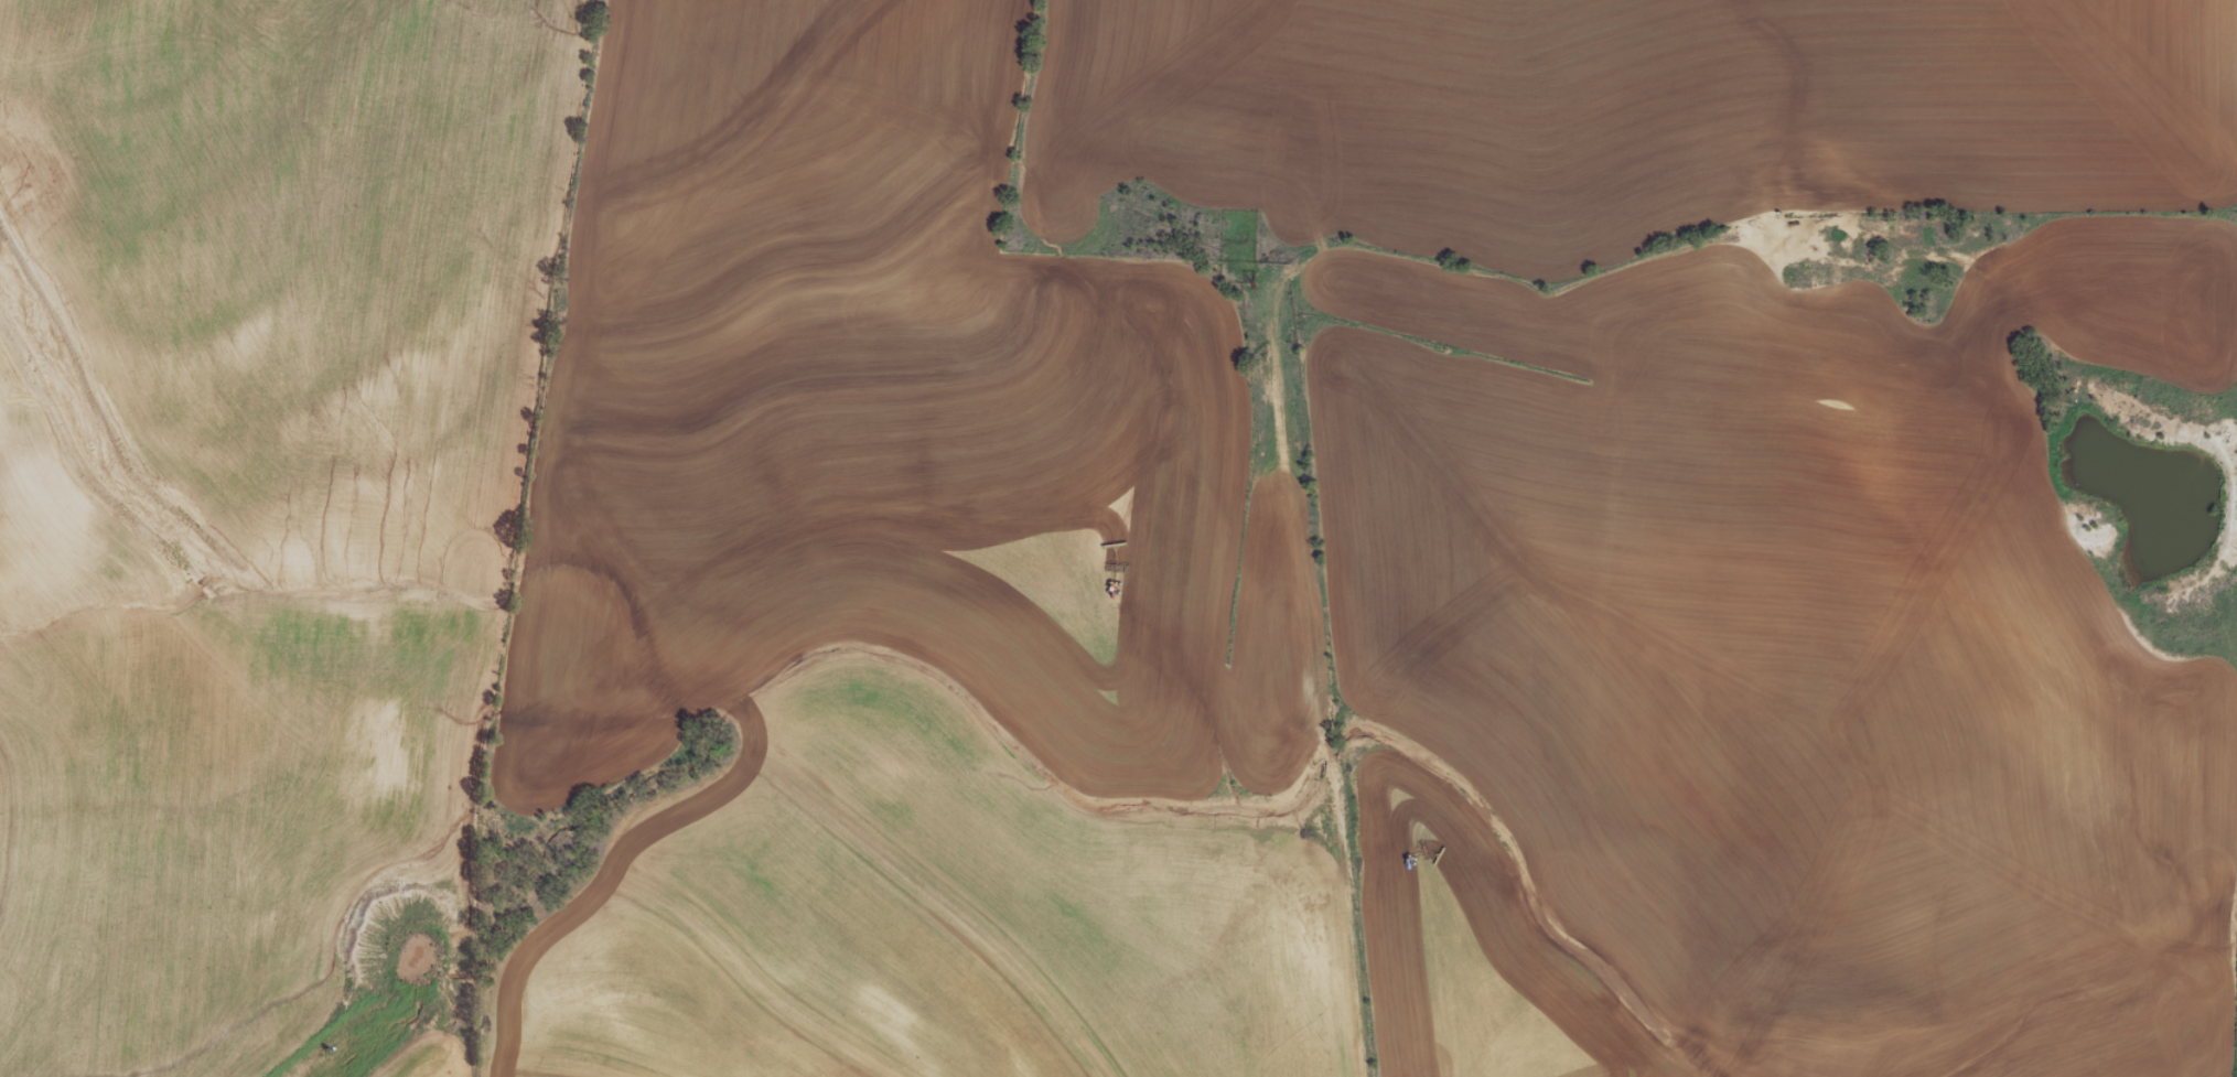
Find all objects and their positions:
road: (1295, 423)

